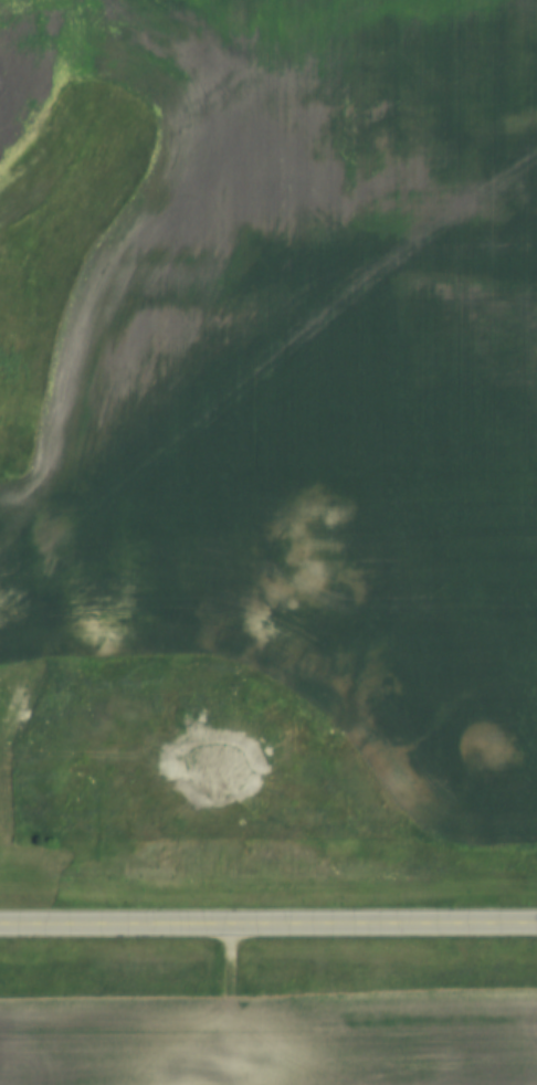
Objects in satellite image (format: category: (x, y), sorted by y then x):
road: (268, 927)

